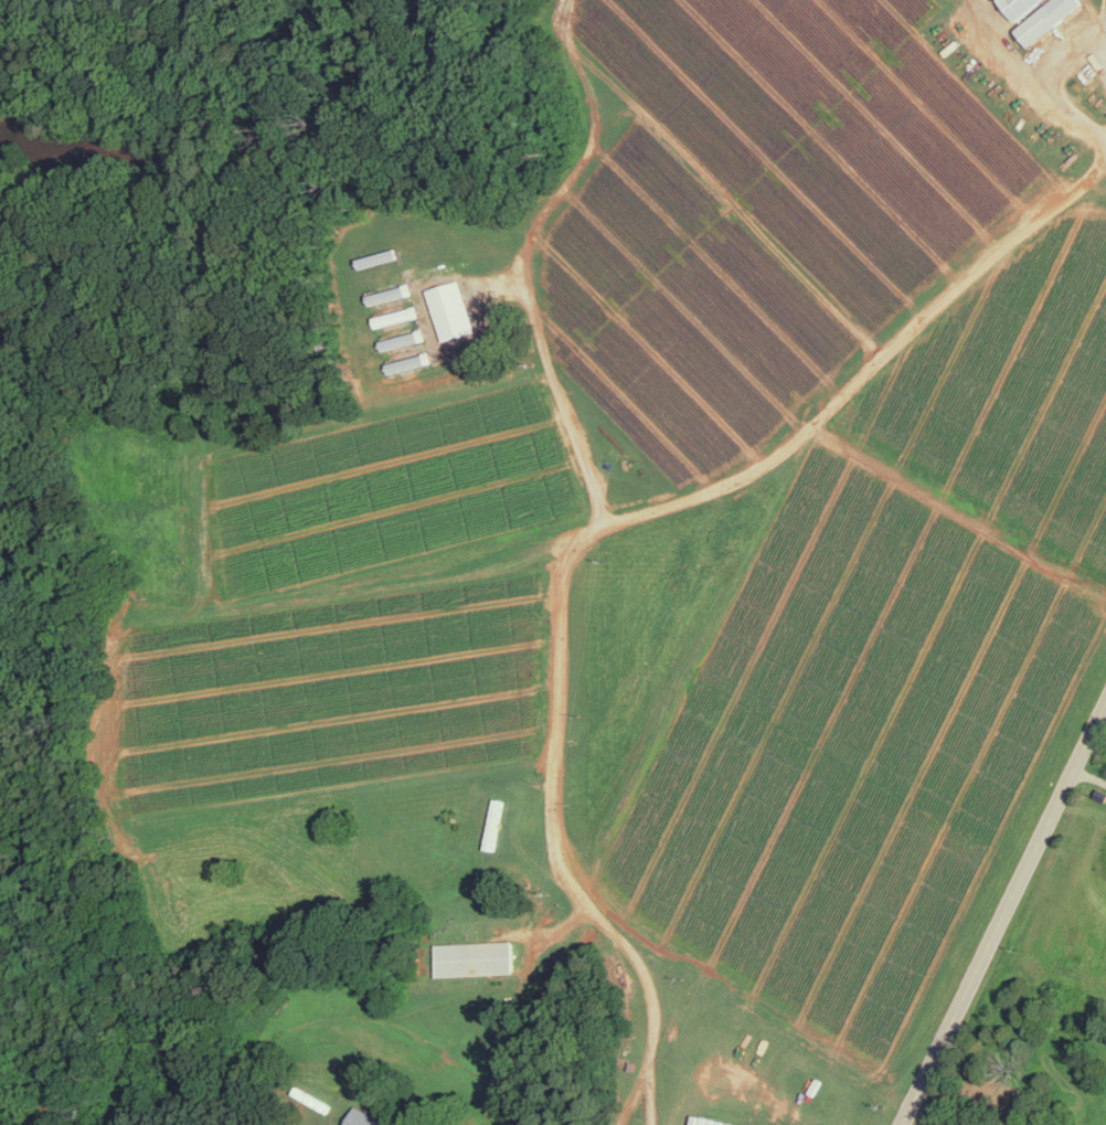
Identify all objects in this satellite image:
building: (1040, 15)
road: (1033, 77)
road: (524, 255)
building: (450, 309)
building: (410, 312)
road: (869, 368)
building: (494, 822)
road: (555, 831)
road: (1004, 915)
building: (475, 956)
building: (366, 1118)

